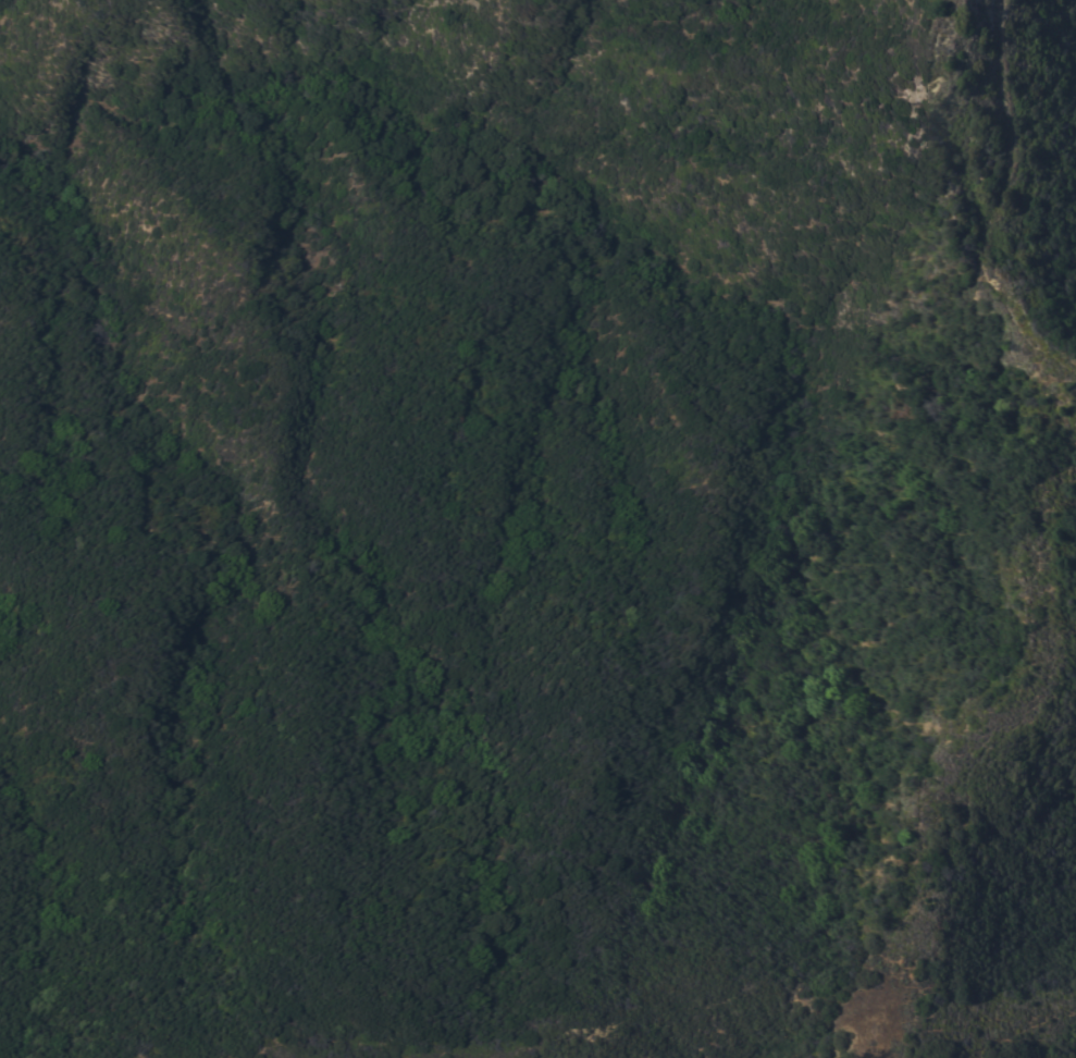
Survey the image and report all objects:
road: (989, 202)

